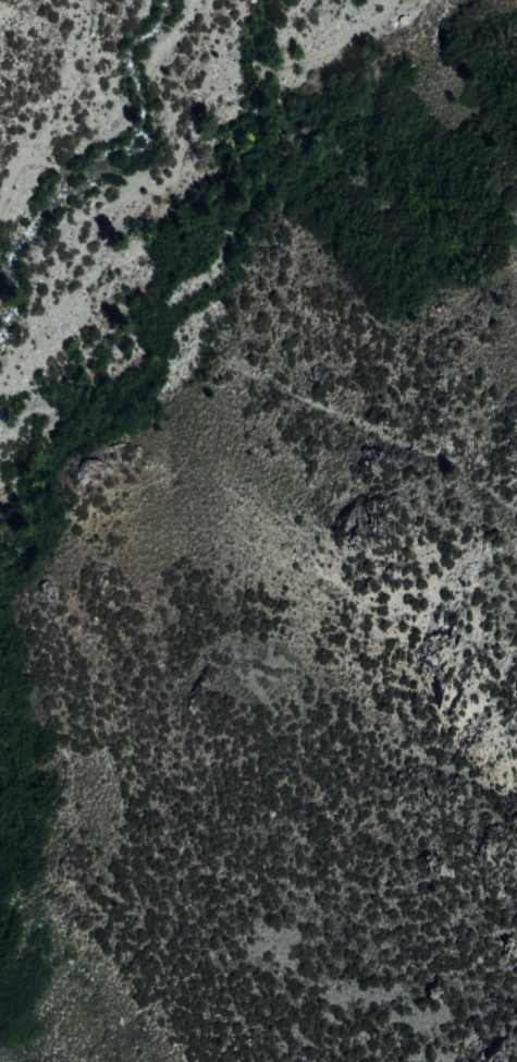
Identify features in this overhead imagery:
building: (398, 20)
storage tank: (398, 20)
road: (254, 90)
road: (12, 170)

